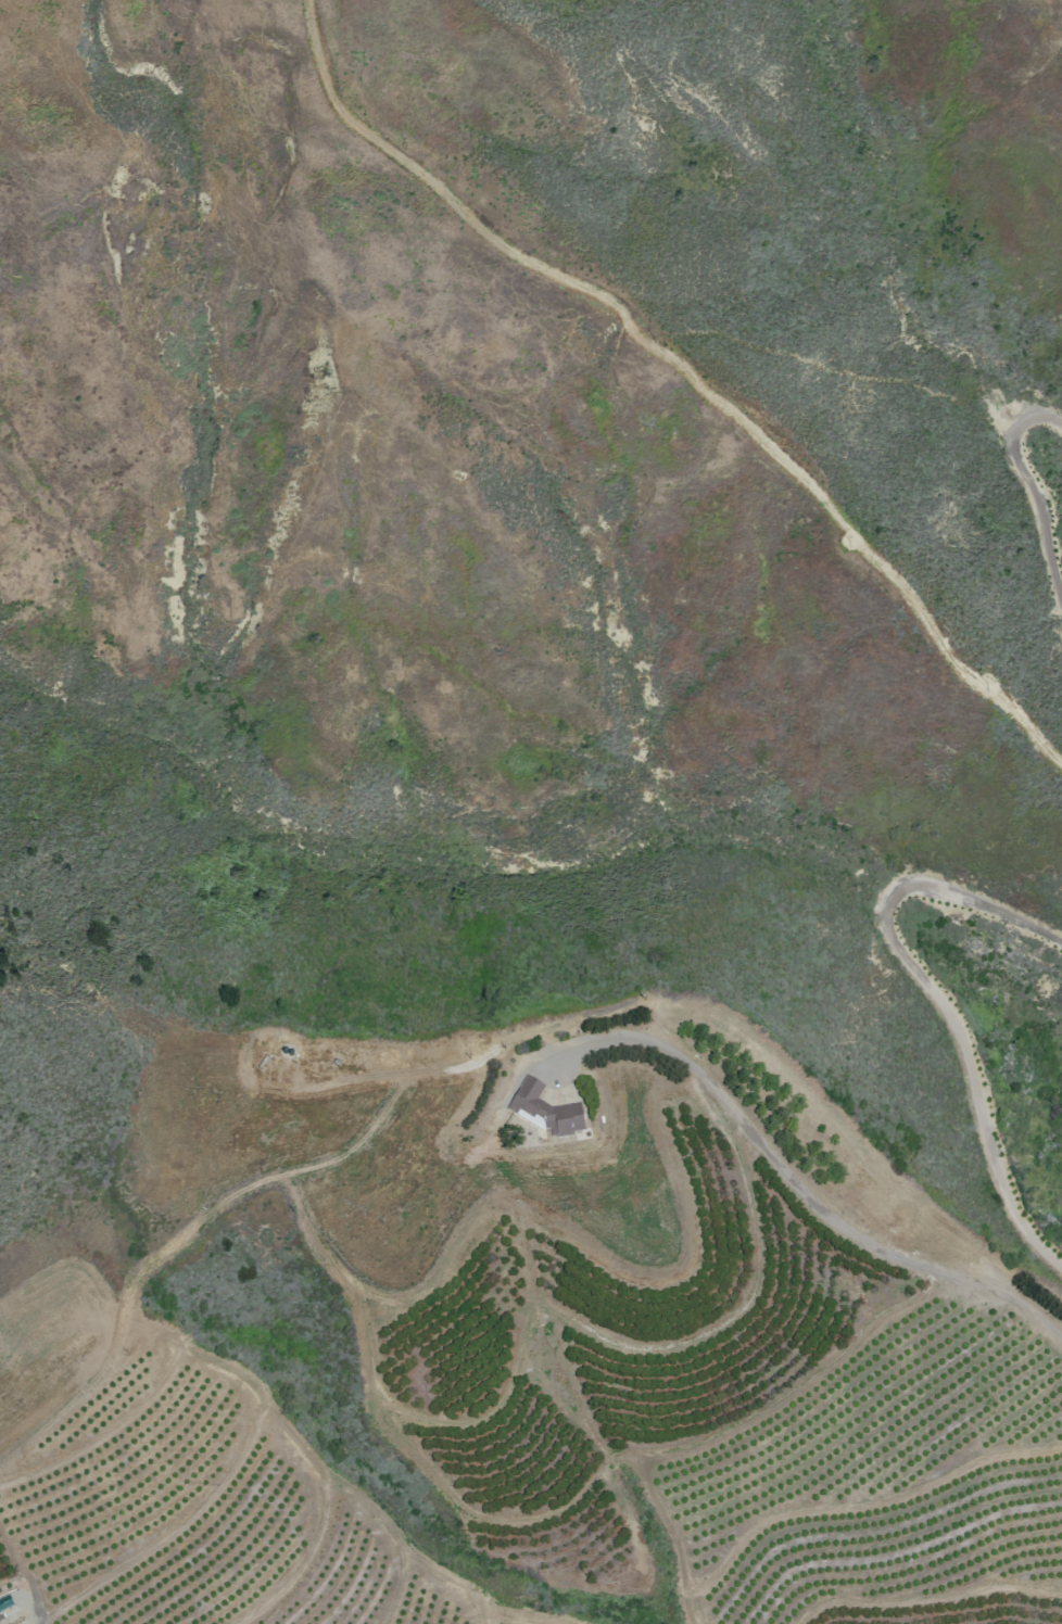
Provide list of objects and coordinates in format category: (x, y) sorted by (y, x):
road: (1028, 495)
road: (944, 997)
building: (544, 1111)
road: (794, 1184)
road: (645, 1349)
road: (280, 1424)
road: (861, 1505)
road: (548, 1513)
road: (173, 1533)
road: (673, 1538)
road: (302, 1561)
road: (400, 1583)
road: (927, 1600)
building: (4, 1602)

